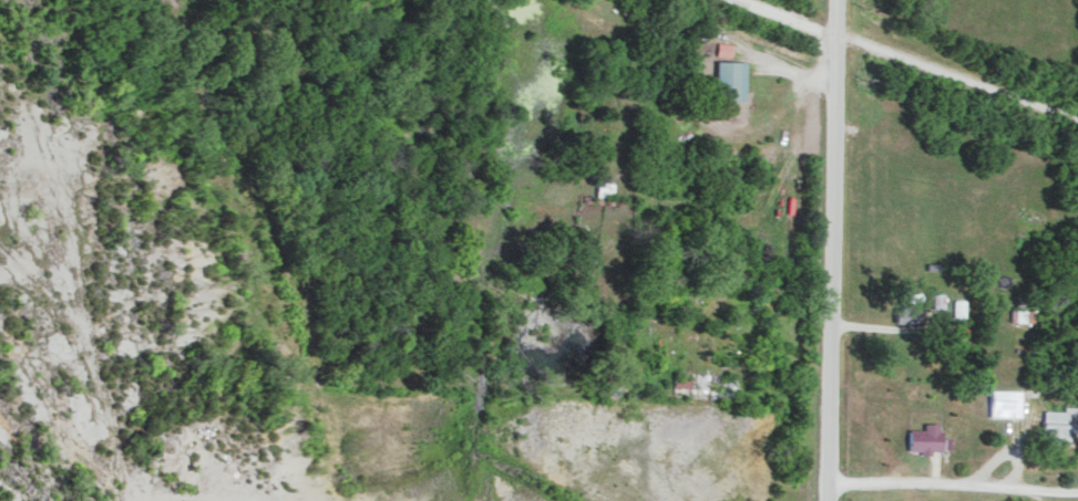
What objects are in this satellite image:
road: (908, 60)
road: (774, 63)
building: (730, 79)
road: (831, 250)
building: (937, 300)
building: (908, 307)
building: (958, 307)
building: (1021, 314)
building: (1005, 403)
building: (1059, 422)
building: (925, 438)
road: (952, 490)

